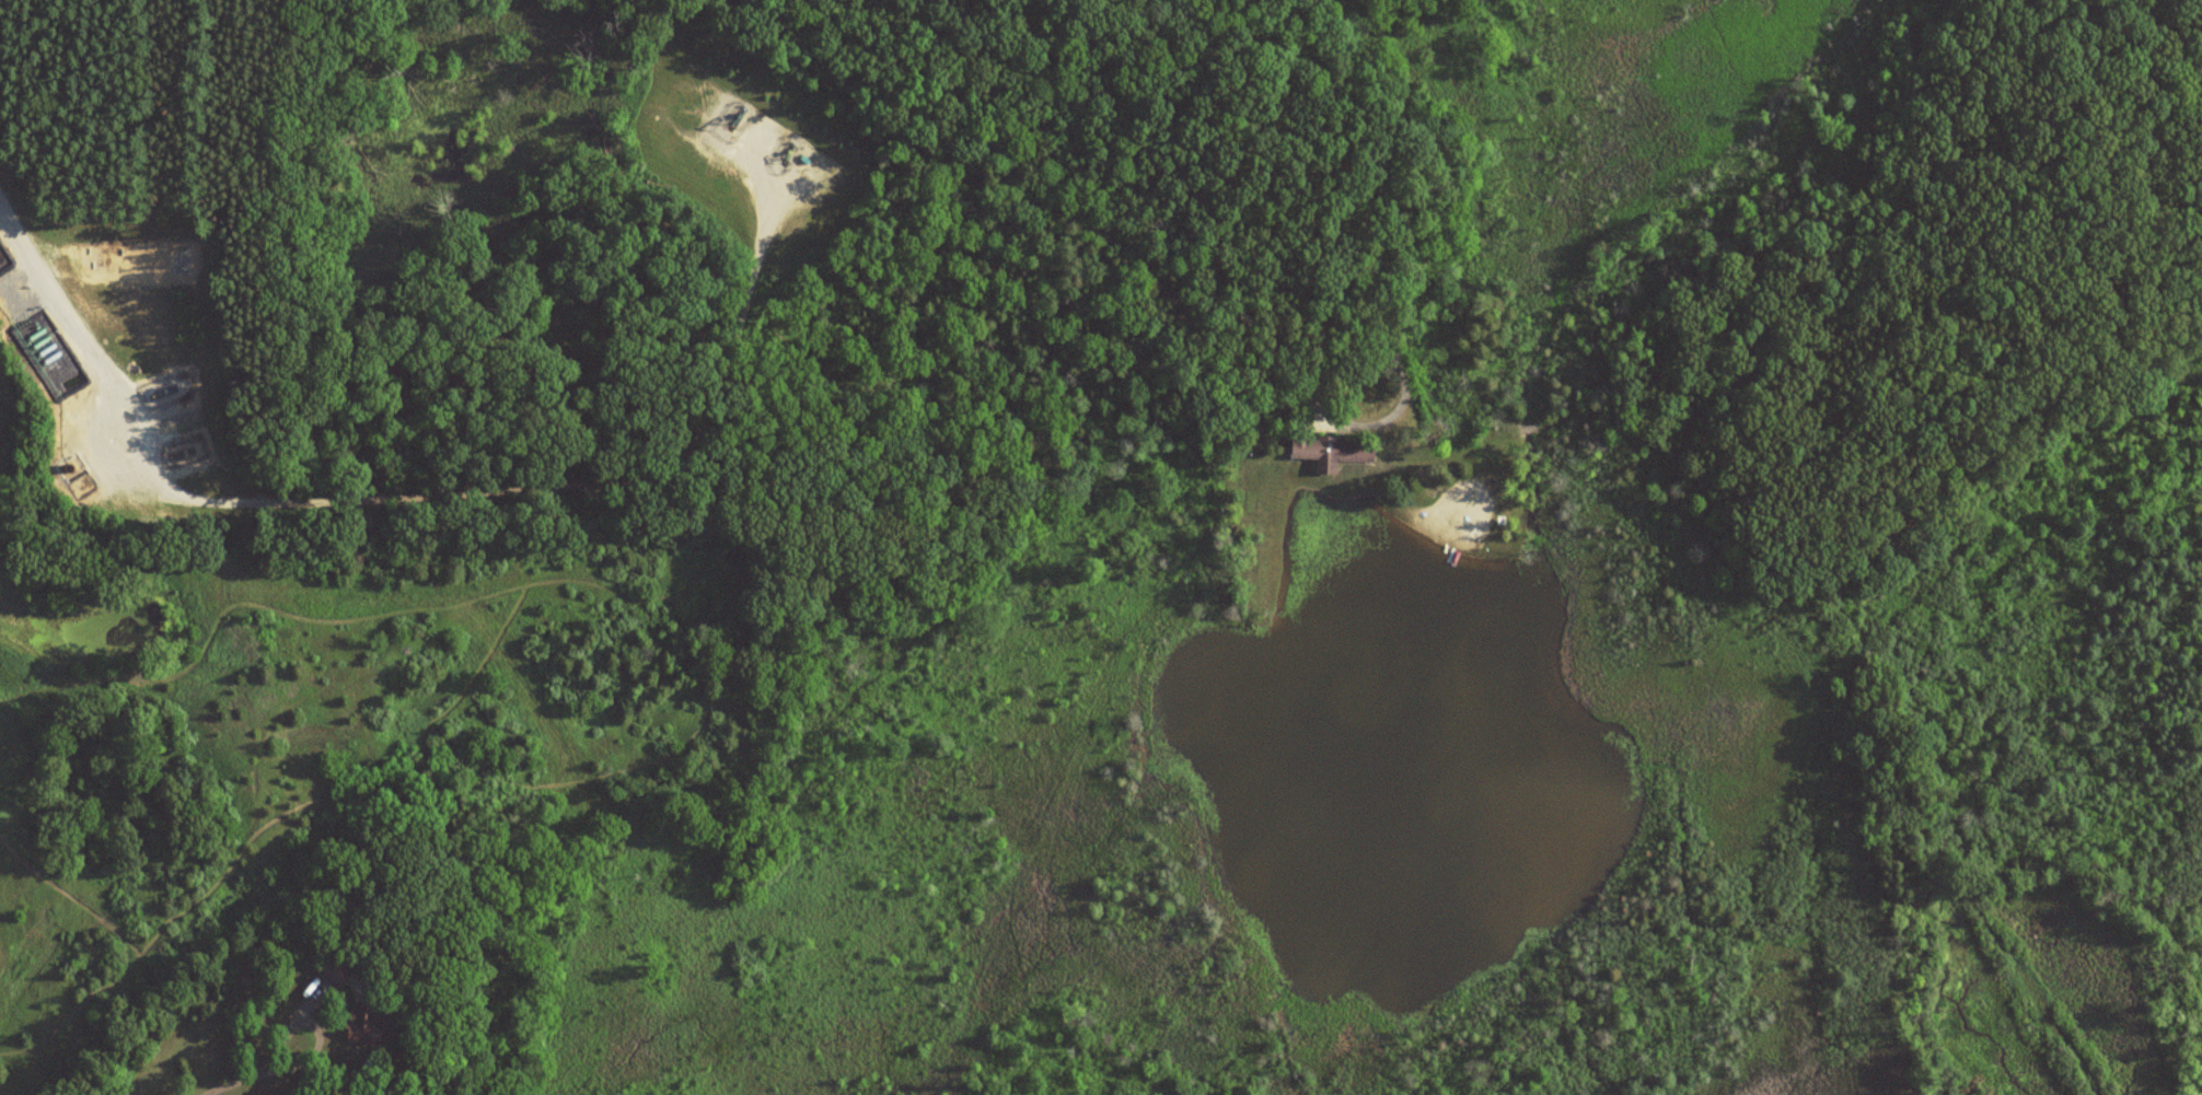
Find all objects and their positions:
road: (1031, 206)
building: (1337, 452)
road: (384, 485)
building: (338, 968)
building: (369, 1022)

